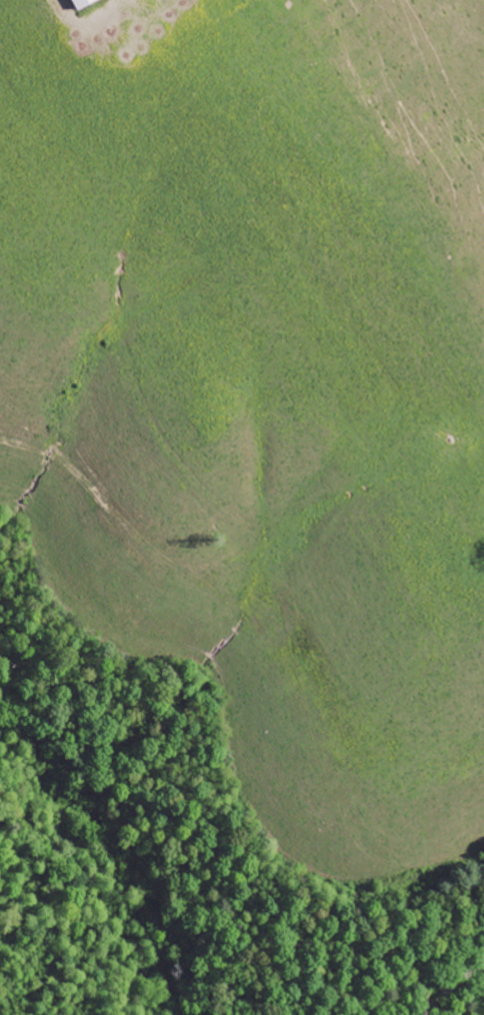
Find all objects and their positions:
building: (86, 4)
road: (450, 987)

